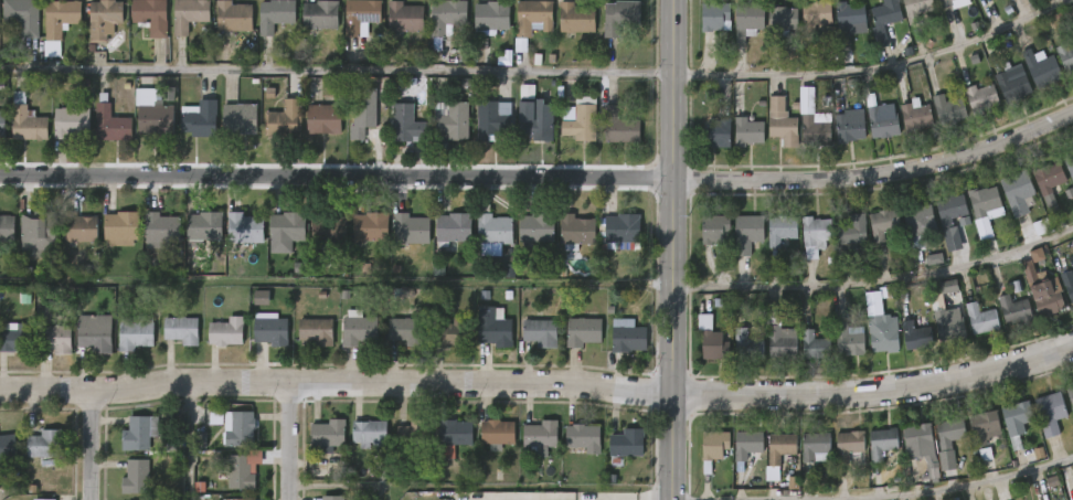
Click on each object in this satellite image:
building: (943, 3)
building: (915, 10)
building: (276, 14)
building: (321, 14)
building: (814, 14)
building: (23, 15)
building: (151, 15)
building: (190, 15)
building: (444, 15)
building: (622, 15)
building: (849, 15)
building: (61, 17)
building: (234, 17)
building: (361, 17)
building: (402, 17)
building: (488, 17)
building: (530, 17)
building: (574, 18)
building: (747, 18)
building: (782, 18)
building: (104, 19)
building: (715, 19)
building: (883, 20)
building: (521, 45)
building: (465, 53)
building: (1065, 55)
building: (1040, 67)
road: (539, 71)
building: (1014, 85)
building: (277, 88)
building: (982, 98)
building: (946, 109)
building: (158, 111)
building: (364, 113)
building: (915, 117)
building: (327, 118)
building: (29, 119)
building: (243, 119)
building: (285, 119)
building: (491, 119)
building: (203, 120)
building: (533, 120)
building: (451, 121)
building: (882, 121)
building: (73, 123)
building: (114, 123)
building: (404, 123)
building: (575, 123)
building: (780, 123)
building: (2, 124)
building: (620, 126)
building: (847, 126)
building: (814, 128)
building: (745, 131)
building: (715, 134)
building: (1069, 166)
road: (541, 178)
building: (1049, 184)
building: (1017, 194)
building: (984, 202)
building: (949, 210)
building: (882, 224)
building: (917, 225)
building: (371, 226)
building: (81, 227)
building: (247, 227)
building: (450, 227)
building: (535, 227)
building: (7, 228)
building: (123, 228)
building: (206, 228)
building: (330, 228)
building: (412, 228)
building: (491, 228)
building: (713, 230)
building: (779, 230)
building: (850, 230)
building: (164, 231)
building: (574, 231)
building: (619, 231)
building: (288, 232)
building: (39, 234)
building: (745, 234)
building: (815, 235)
road: (673, 249)
building: (1037, 255)
building: (438, 269)
road: (877, 280)
building: (948, 286)
building: (1067, 286)
building: (1042, 292)
building: (262, 298)
building: (1012, 310)
building: (979, 319)
building: (949, 323)
building: (489, 327)
building: (878, 327)
building: (270, 329)
building: (359, 329)
building: (182, 330)
building: (97, 331)
building: (317, 331)
building: (406, 331)
building: (584, 331)
building: (136, 332)
building: (227, 332)
building: (451, 332)
building: (538, 332)
building: (777, 336)
building: (914, 337)
building: (626, 338)
building: (17, 339)
building: (54, 339)
building: (847, 341)
building: (712, 345)
building: (745, 345)
building: (814, 345)
road: (337, 382)
road: (875, 393)
building: (1070, 395)
building: (1049, 412)
building: (1014, 421)
building: (982, 425)
building: (238, 428)
building: (455, 432)
building: (139, 433)
building: (498, 433)
building: (330, 434)
building: (370, 434)
building: (415, 434)
building: (950, 434)
building: (542, 436)
building: (585, 438)
building: (915, 438)
road: (189, 439)
road: (290, 440)
road: (93, 443)
building: (628, 443)
building: (747, 443)
building: (880, 443)
building: (847, 444)
building: (45, 445)
building: (9, 447)
building: (779, 447)
building: (815, 447)
building: (711, 448)
building: (243, 471)
building: (136, 477)
road: (874, 496)
building: (333, 498)
road: (569, 498)
building: (44, 499)
building: (244, 499)

